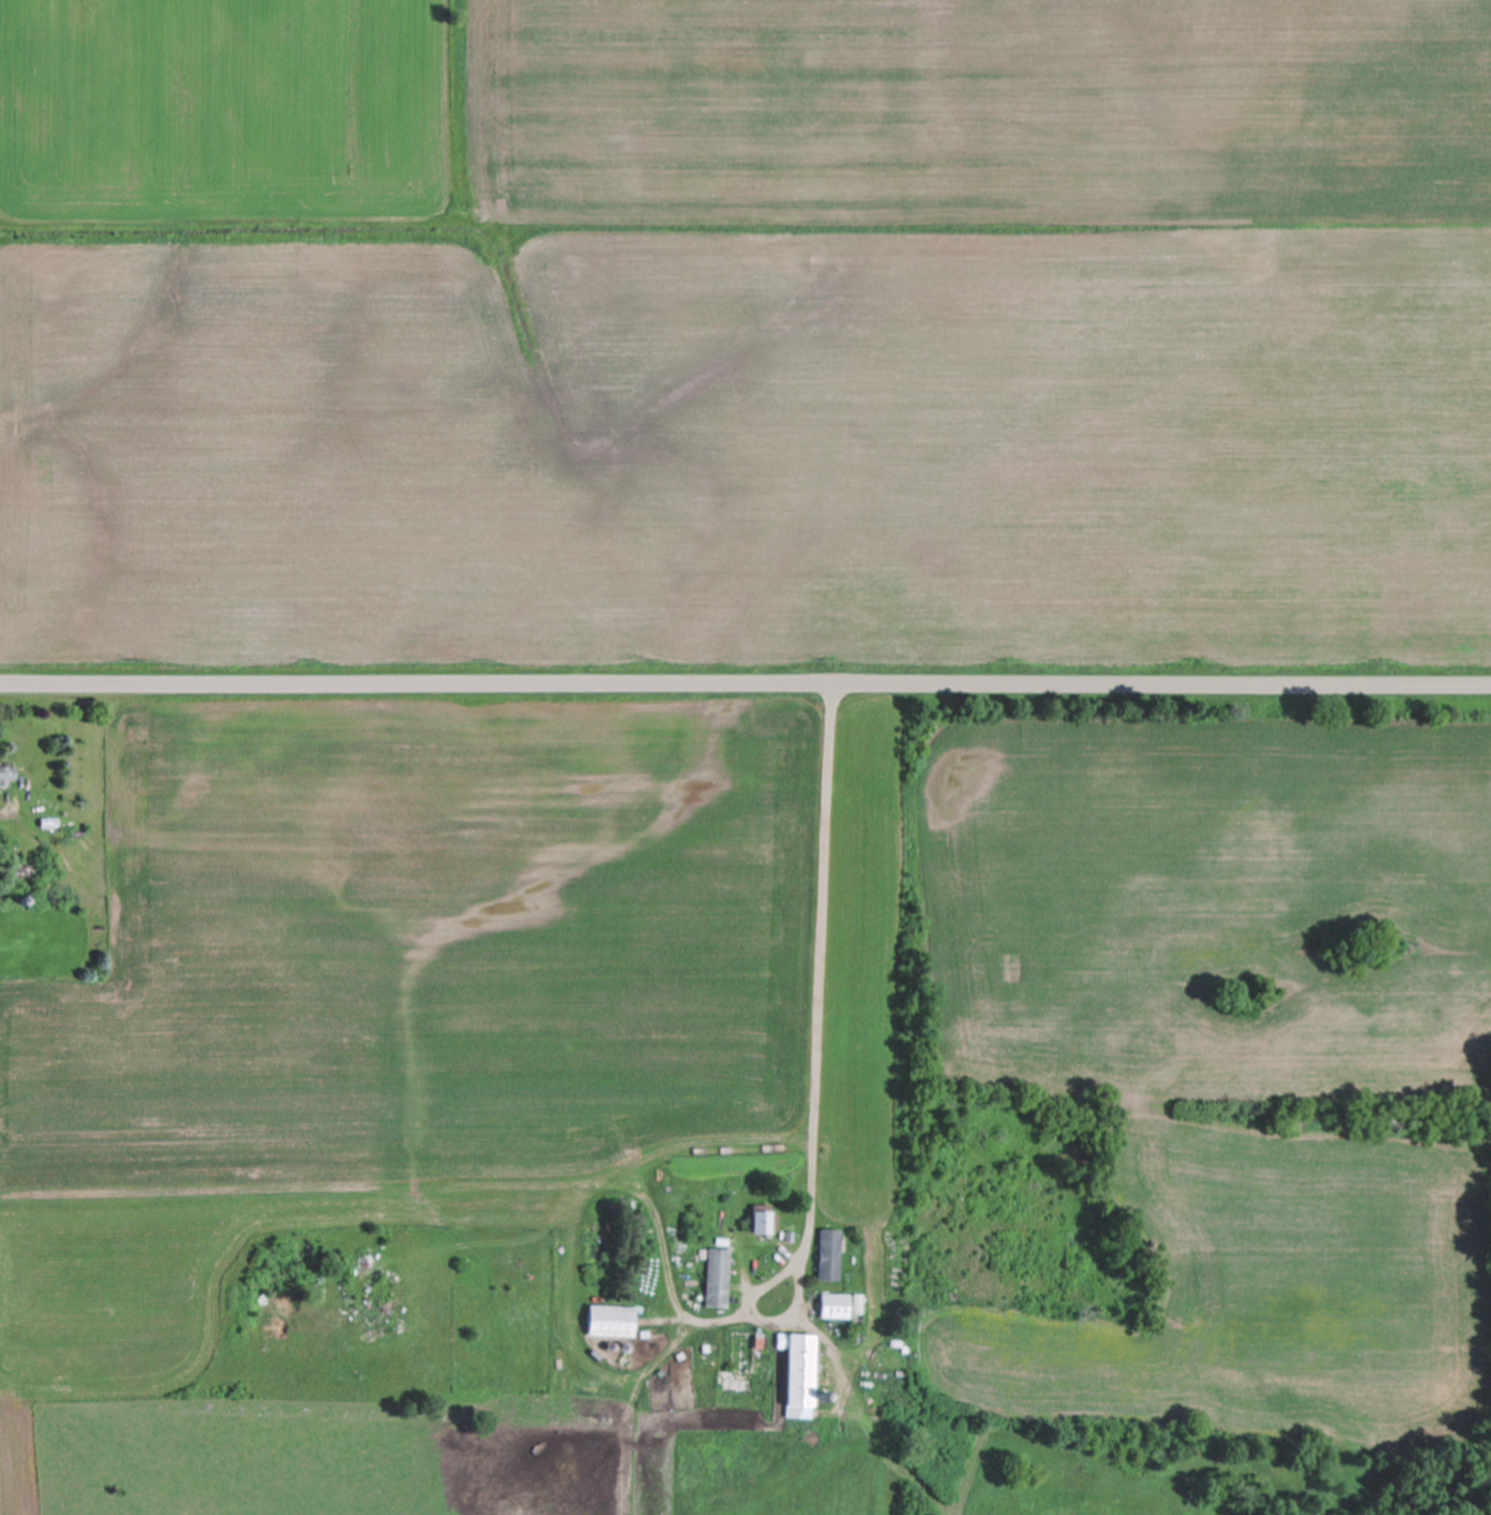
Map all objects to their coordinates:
road: (745, 692)
building: (5, 772)
road: (8, 816)
road: (822, 975)
building: (758, 1219)
building: (827, 1254)
building: (714, 1278)
building: (832, 1306)
building: (855, 1314)
building: (607, 1321)
building: (742, 1351)
building: (794, 1373)

